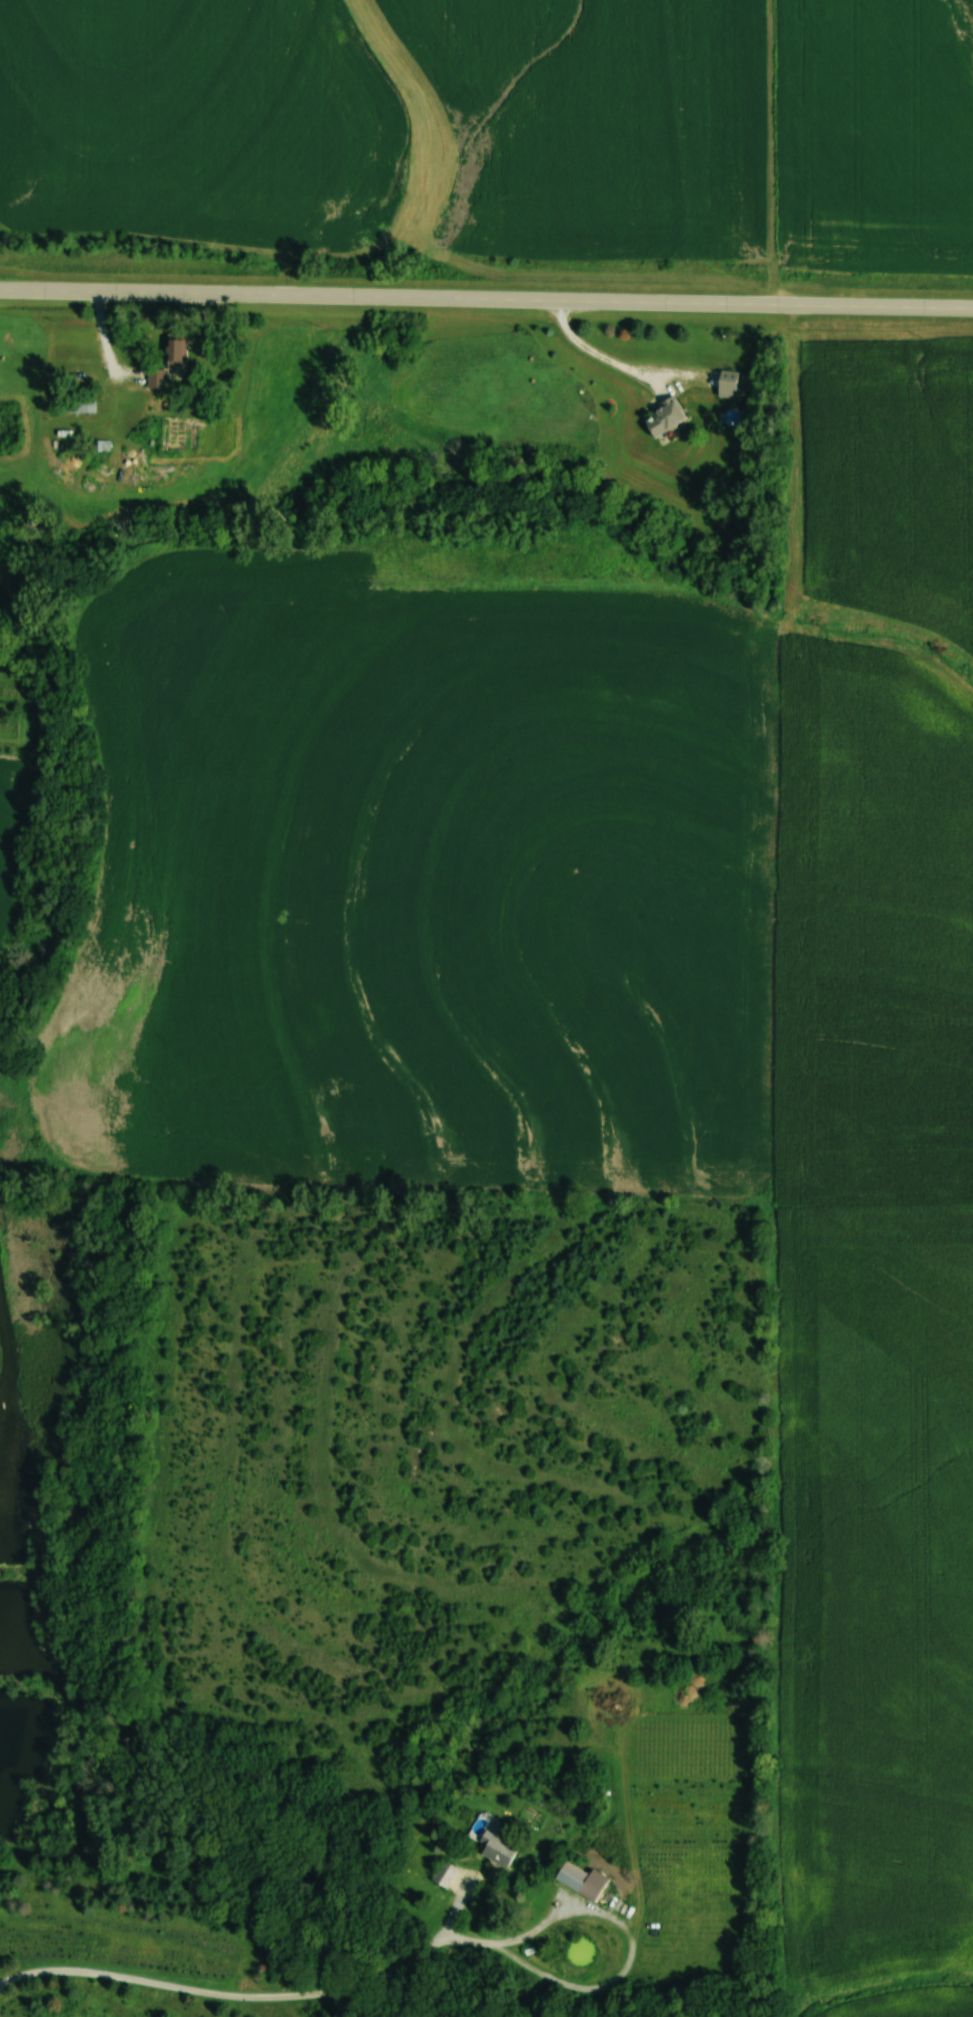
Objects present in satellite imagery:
road: (486, 299)
building: (175, 351)
road: (597, 355)
building: (157, 378)
building: (727, 384)
building: (77, 403)
building: (663, 417)
building: (742, 526)
building: (496, 1849)
building: (444, 1875)
building: (581, 1880)
road: (455, 1911)
road: (632, 1950)
road: (247, 1996)

